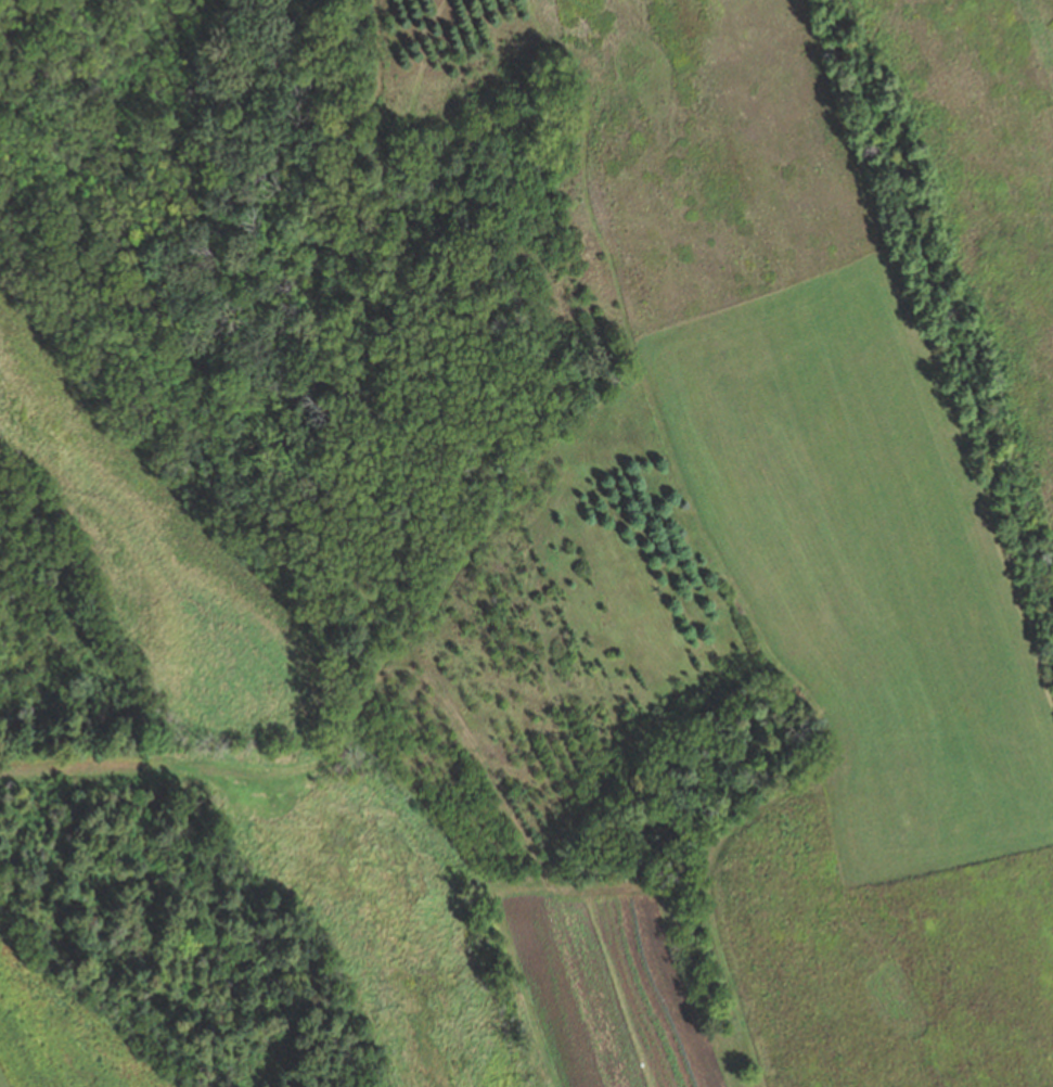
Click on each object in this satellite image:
road: (724, 901)

